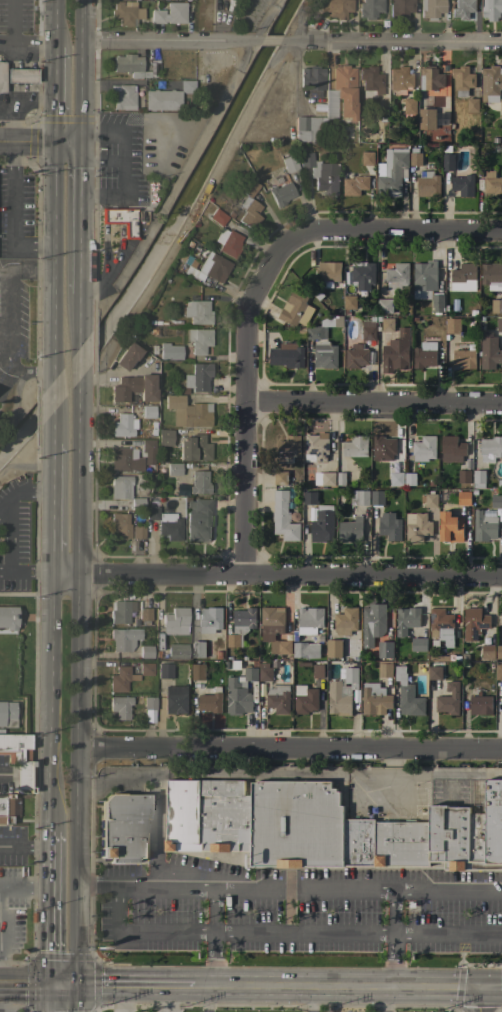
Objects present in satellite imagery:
building: (335, 7)
building: (370, 8)
building: (400, 8)
building: (431, 8)
building: (463, 9)
building: (491, 9)
building: (126, 12)
building: (169, 13)
road: (55, 23)
road: (168, 40)
road: (275, 40)
road: (399, 41)
road: (27, 43)
building: (130, 65)
road: (81, 66)
building: (20, 75)
building: (1, 76)
building: (370, 78)
building: (400, 78)
building: (430, 78)
building: (312, 80)
building: (462, 80)
building: (153, 83)
building: (491, 83)
building: (186, 86)
building: (341, 92)
road: (55, 96)
building: (122, 96)
building: (162, 99)
road: (27, 102)
building: (472, 105)
building: (408, 106)
building: (501, 108)
building: (427, 119)
road: (8, 127)
building: (308, 128)
road: (88, 136)
road: (108, 136)
road: (81, 140)
road: (26, 145)
traffic signals: (54, 145)
road: (67, 146)
traffic signals: (81, 147)
parking lot: (140, 147)
road: (81, 154)
building: (414, 157)
building: (367, 158)
road: (108, 160)
road: (88, 161)
building: (447, 162)
building: (288, 163)
building: (321, 173)
building: (391, 173)
road: (81, 178)
building: (427, 184)
road: (120, 185)
building: (355, 185)
building: (462, 185)
building: (492, 185)
building: (247, 186)
building: (281, 193)
building: (490, 203)
road: (12, 214)
building: (250, 214)
building: (217, 216)
building: (120, 219)
road: (403, 227)
road: (119, 242)
building: (228, 242)
road: (80, 245)
road: (52, 246)
road: (106, 254)
building: (210, 266)
road: (35, 268)
building: (328, 271)
road: (9, 275)
building: (362, 275)
building: (491, 275)
building: (396, 276)
building: (463, 278)
building: (427, 285)
building: (350, 302)
road: (4, 304)
building: (384, 306)
building: (496, 306)
building: (295, 309)
building: (197, 311)
road: (79, 320)
building: (337, 322)
building: (386, 324)
building: (499, 325)
building: (452, 326)
building: (316, 332)
building: (368, 333)
building: (199, 339)
road: (5, 342)
building: (170, 351)
building: (489, 351)
building: (395, 352)
building: (127, 355)
building: (324, 355)
building: (424, 355)
building: (286, 356)
building: (356, 356)
building: (464, 358)
road: (26, 369)
road: (78, 377)
building: (198, 377)
road: (50, 381)
building: (133, 387)
road: (243, 389)
road: (372, 404)
building: (148, 411)
building: (187, 411)
building: (124, 421)
road: (51, 429)
building: (164, 437)
building: (147, 445)
building: (355, 446)
building: (193, 447)
building: (315, 447)
building: (382, 448)
building: (288, 449)
building: (424, 449)
building: (452, 449)
building: (490, 449)
building: (123, 459)
building: (174, 469)
building: (463, 476)
building: (280, 477)
building: (327, 479)
building: (340, 479)
building: (396, 479)
building: (479, 479)
building: (199, 482)
building: (120, 486)
road: (22, 490)
road: (77, 491)
building: (463, 497)
building: (309, 498)
building: (359, 498)
building: (377, 498)
building: (431, 500)
building: (496, 501)
building: (137, 503)
road: (49, 508)
building: (283, 517)
building: (198, 519)
building: (165, 522)
building: (121, 523)
building: (322, 524)
building: (484, 525)
building: (389, 526)
building: (416, 527)
building: (450, 527)
building: (350, 530)
building: (137, 531)
road: (24, 572)
road: (63, 573)
road: (289, 575)
building: (120, 610)
building: (144, 613)
building: (8, 617)
building: (501, 618)
building: (209, 620)
building: (309, 620)
building: (406, 620)
building: (175, 621)
building: (345, 621)
building: (372, 623)
building: (474, 623)
building: (240, 626)
building: (440, 628)
building: (274, 630)
building: (123, 638)
building: (418, 644)
building: (333, 649)
building: (198, 650)
building: (305, 650)
building: (146, 651)
building: (177, 651)
building: (384, 651)
building: (487, 652)
building: (499, 652)
road: (78, 661)
building: (145, 668)
building: (164, 670)
building: (384, 670)
building: (317, 671)
building: (434, 671)
building: (197, 672)
building: (498, 672)
building: (132, 673)
building: (265, 674)
building: (120, 679)
building: (239, 692)
building: (342, 692)
building: (407, 695)
building: (278, 698)
building: (175, 699)
building: (375, 699)
building: (448, 700)
building: (210, 701)
road: (46, 702)
building: (149, 702)
building: (305, 702)
building: (501, 702)
building: (480, 705)
building: (120, 706)
building: (7, 713)
road: (290, 750)
building: (18, 757)
road: (390, 762)
road: (329, 772)
road: (160, 786)
building: (8, 807)
building: (325, 827)
building: (123, 828)
road: (22, 846)
road: (76, 865)
road: (288, 885)
road: (22, 887)
road: (44, 907)
road: (393, 910)
road: (283, 933)
road: (214, 958)
road: (392, 960)
road: (60, 983)
traffic signals: (76, 983)
road: (133, 983)
road: (22, 984)
traffic signals: (44, 984)
road: (331, 985)
road: (487, 989)
road: (76, 997)
road: (162, 997)
road: (206, 997)
road: (44, 998)
road: (310, 998)
road: (385, 999)
road: (472, 1000)

